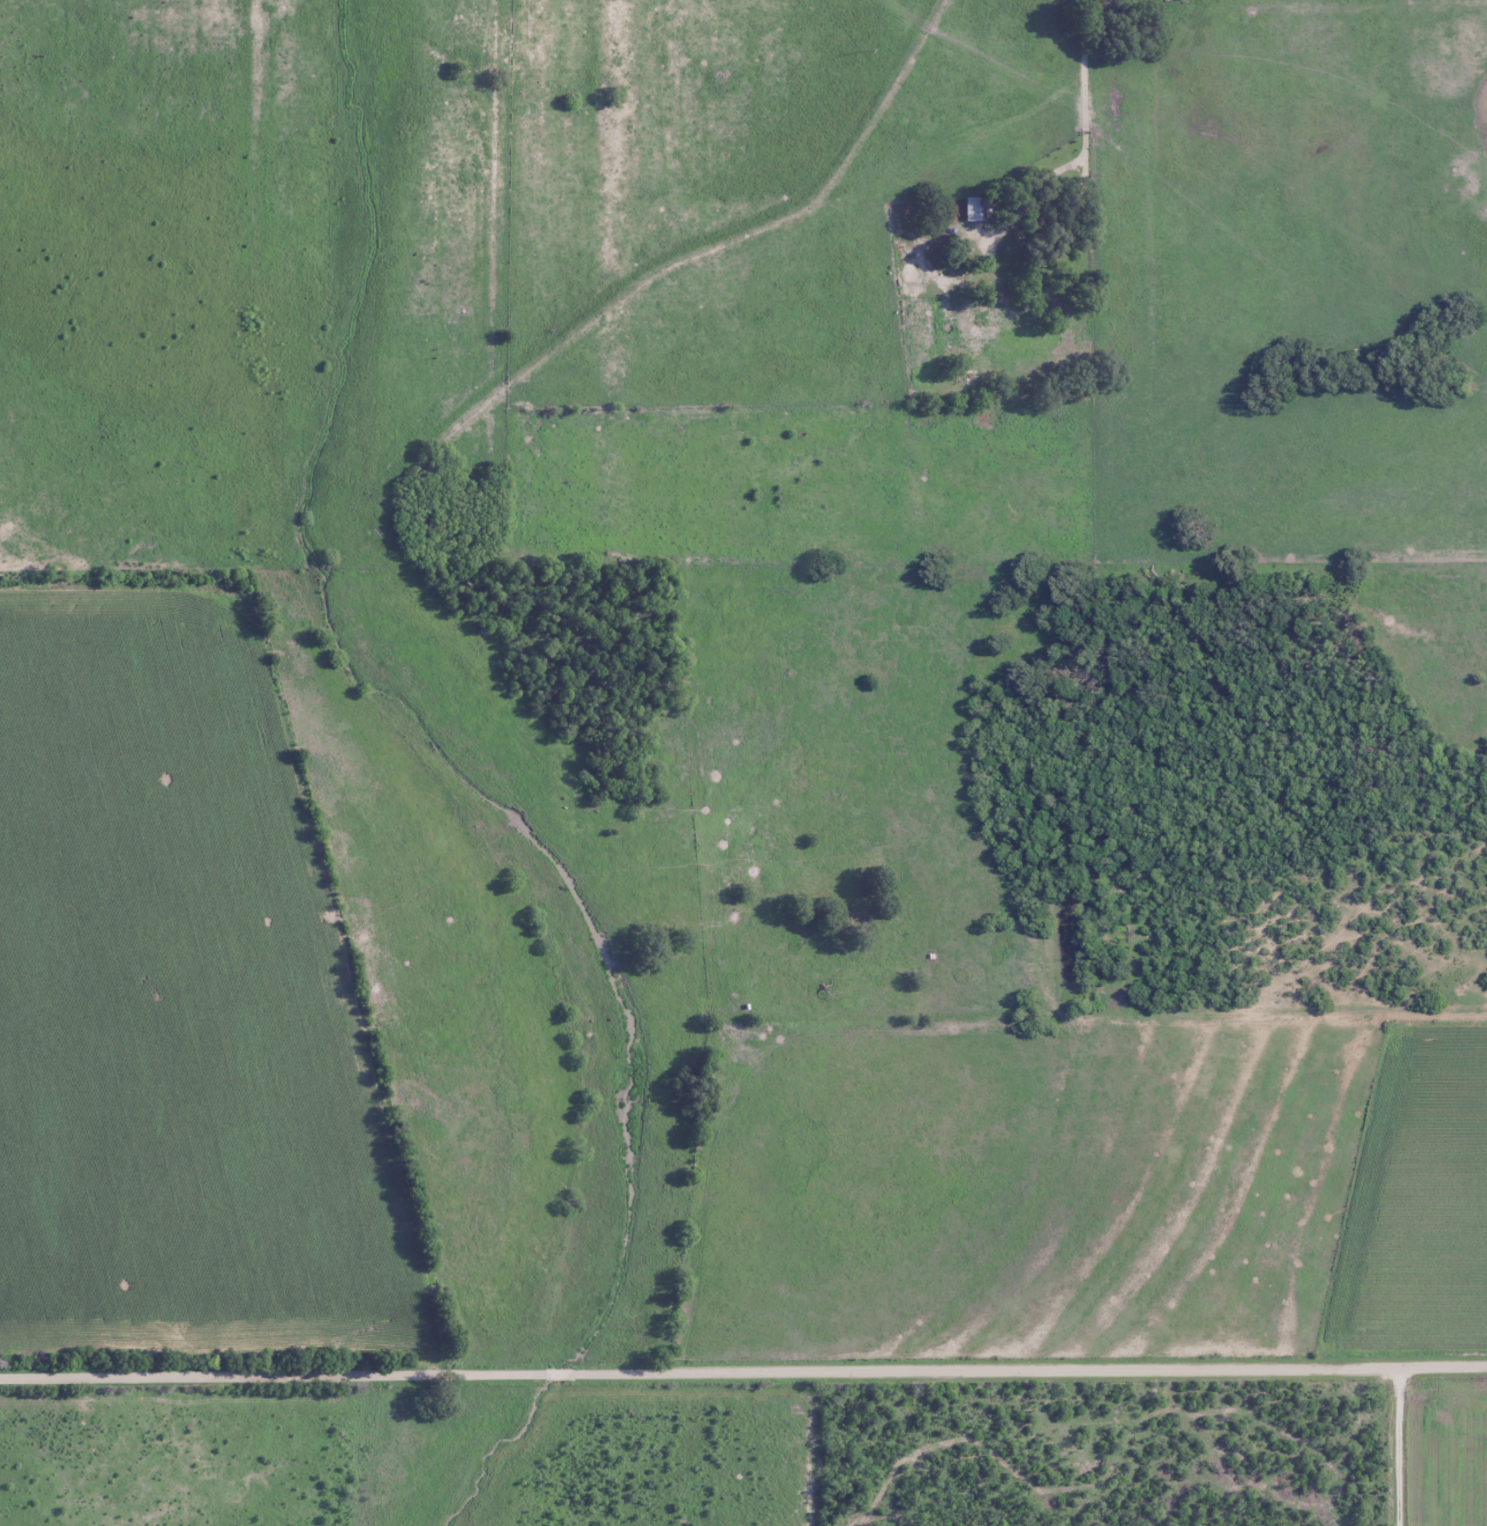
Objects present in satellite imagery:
road: (1088, 25)
road: (1086, 135)
building: (979, 210)
road: (743, 1374)
road: (1401, 1446)

